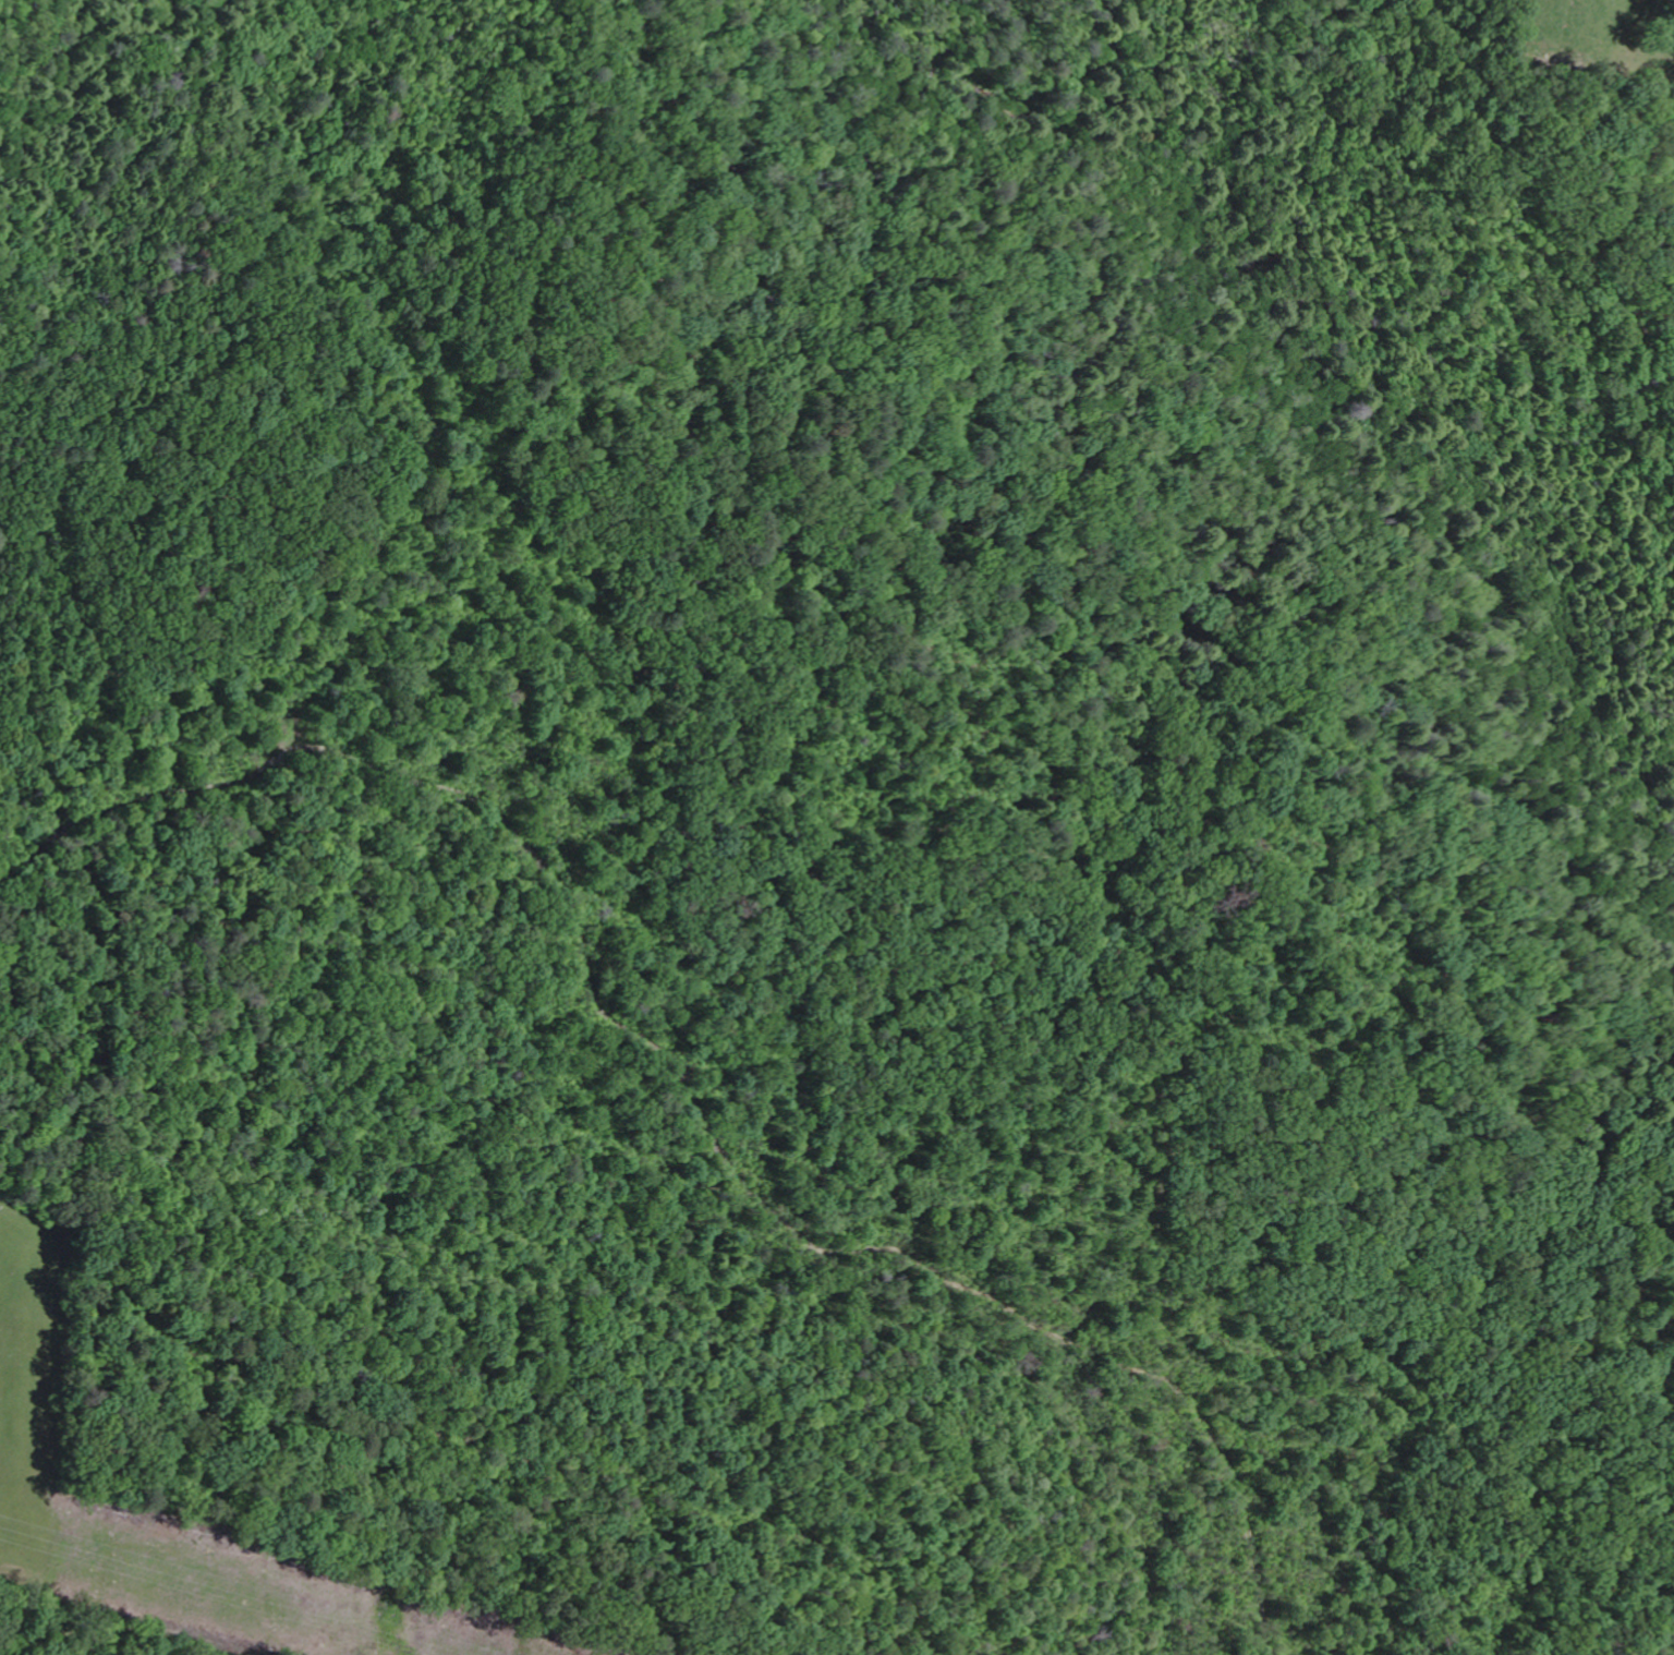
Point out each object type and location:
road: (686, 1060)

